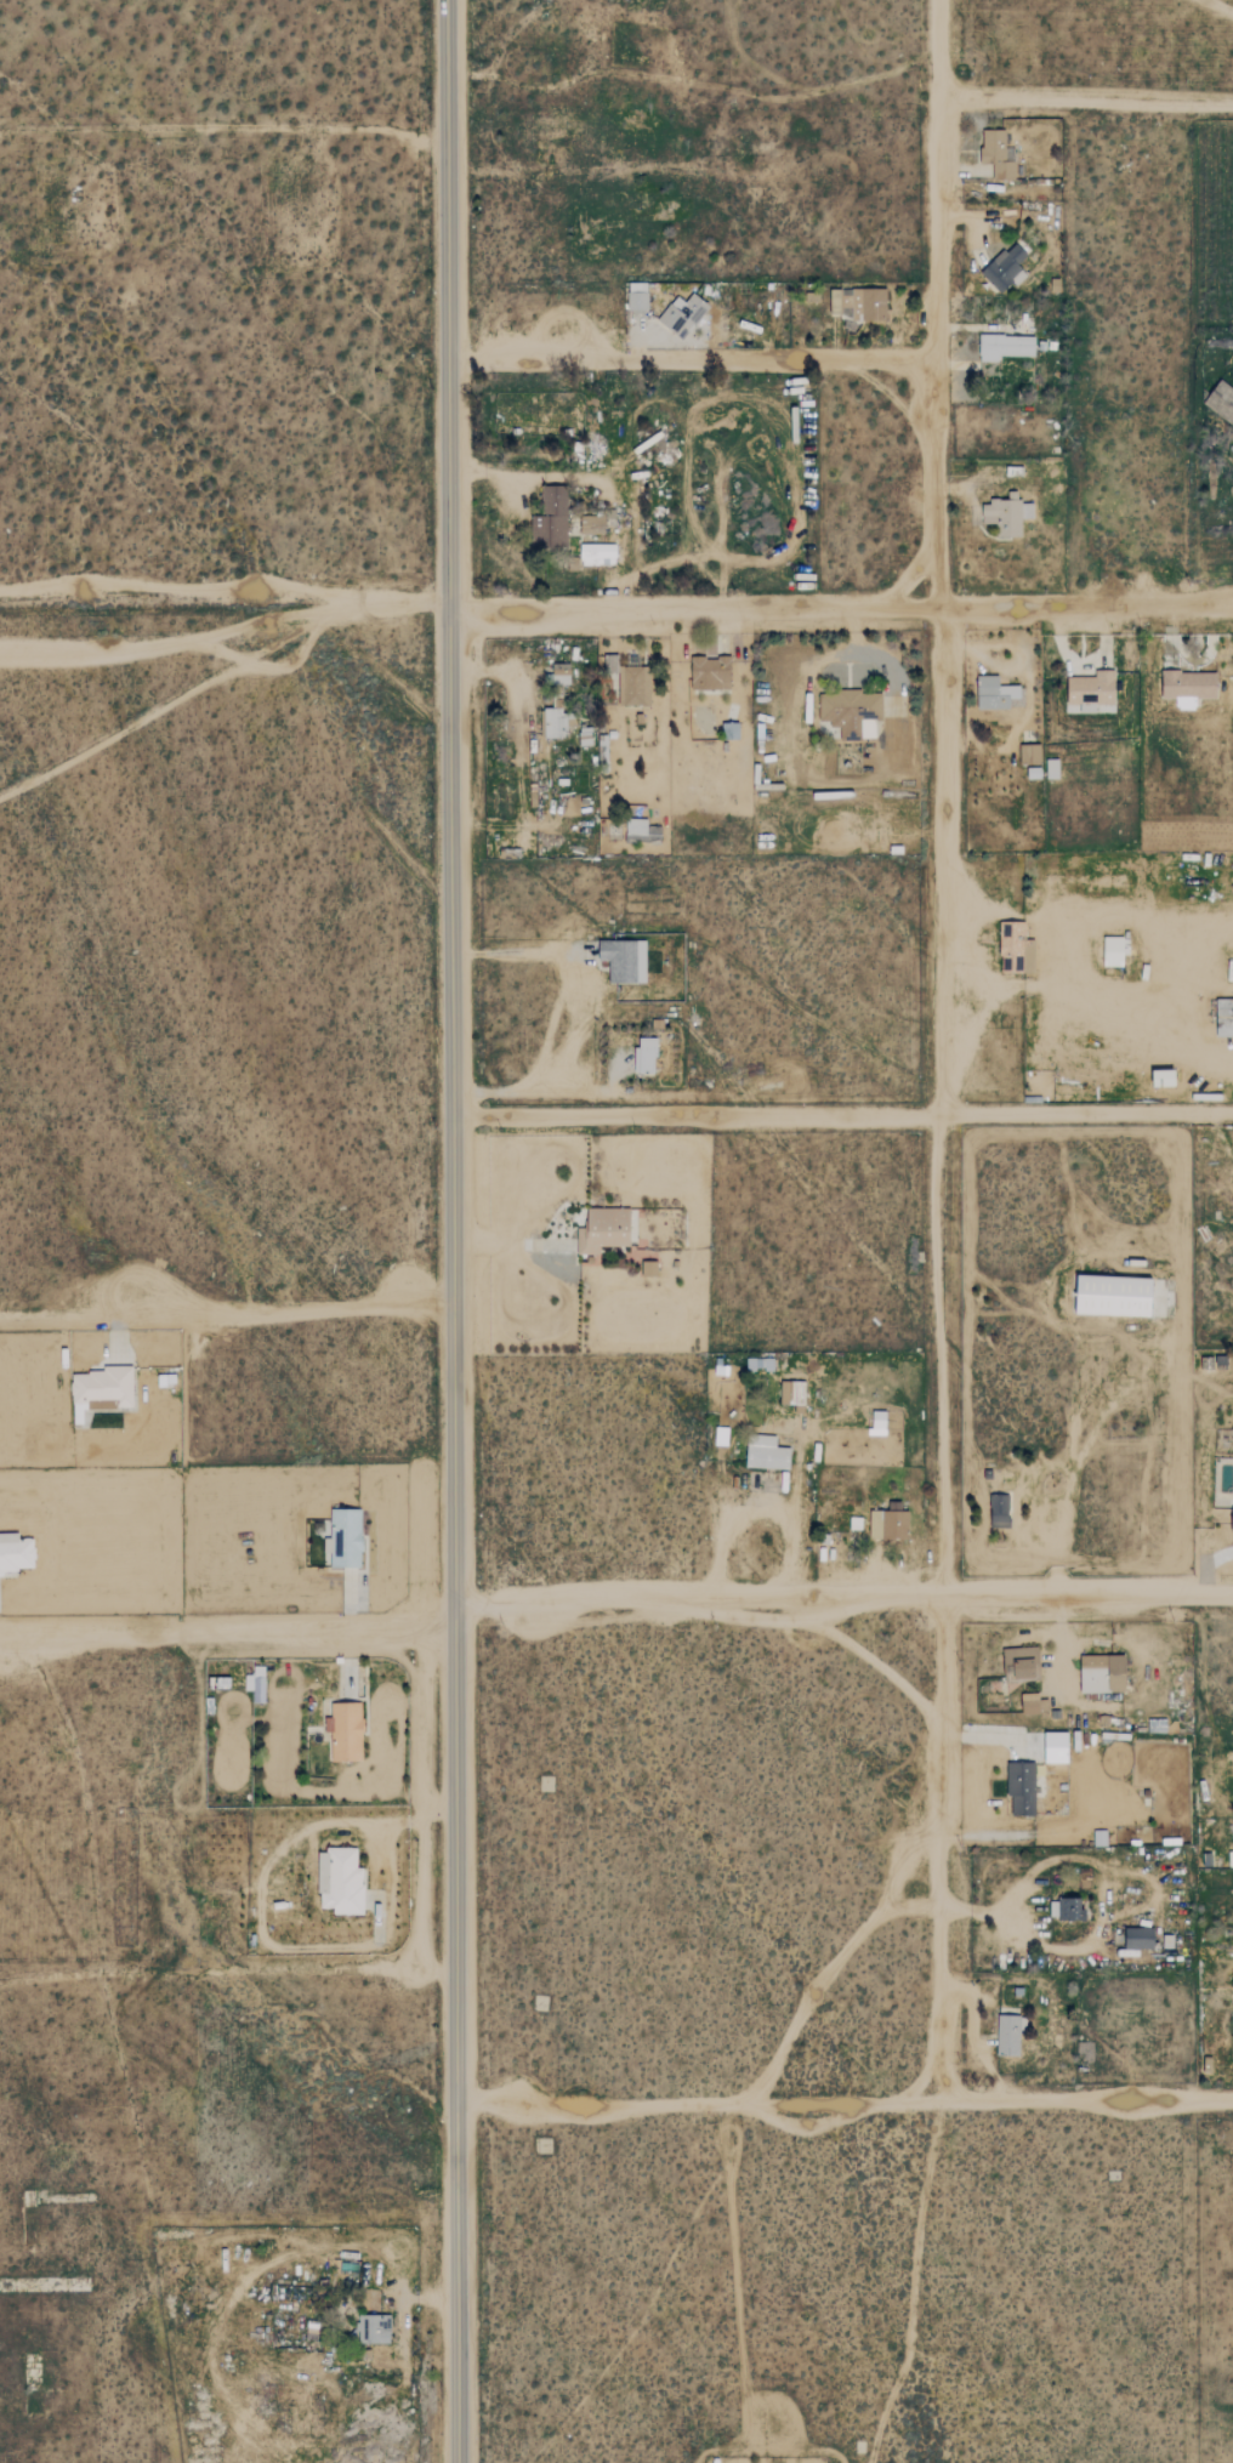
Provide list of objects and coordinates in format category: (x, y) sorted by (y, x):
road: (1084, 110)
building: (998, 154)
building: (1006, 268)
building: (637, 296)
building: (840, 301)
building: (869, 305)
building: (683, 314)
building: (1005, 347)
road: (693, 358)
building: (1221, 400)
building: (1007, 516)
building: (552, 518)
building: (592, 525)
building: (598, 554)
road: (225, 605)
road: (841, 609)
building: (711, 673)
building: (561, 675)
building: (633, 686)
building: (1189, 688)
building: (1091, 692)
building: (995, 694)
building: (852, 712)
building: (556, 723)
building: (1030, 755)
building: (1052, 769)
building: (637, 826)
building: (1016, 949)
building: (1113, 951)
building: (624, 960)
road: (574, 1009)
building: (1225, 1018)
road: (947, 1051)
building: (646, 1054)
building: (1165, 1076)
building: (604, 1229)
road: (453, 1230)
road: (511, 1240)
building: (649, 1268)
building: (1114, 1295)
road: (227, 1307)
building: (102, 1388)
building: (791, 1392)
building: (879, 1422)
building: (767, 1454)
road: (809, 1463)
road: (1074, 1466)
building: (1000, 1511)
road: (766, 1512)
building: (1232, 1520)
building: (888, 1521)
building: (345, 1537)
building: (16, 1552)
road: (859, 1597)
road: (471, 1608)
road: (228, 1628)
building: (1021, 1661)
building: (1103, 1673)
building: (256, 1684)
building: (1033, 1703)
building: (346, 1731)
road: (990, 1736)
building: (1057, 1747)
building: (1022, 1787)
building: (340, 1882)
building: (1066, 1909)
building: (1140, 1938)
road: (352, 1970)
building: (1010, 2035)
road: (845, 2101)
building: (374, 2330)

